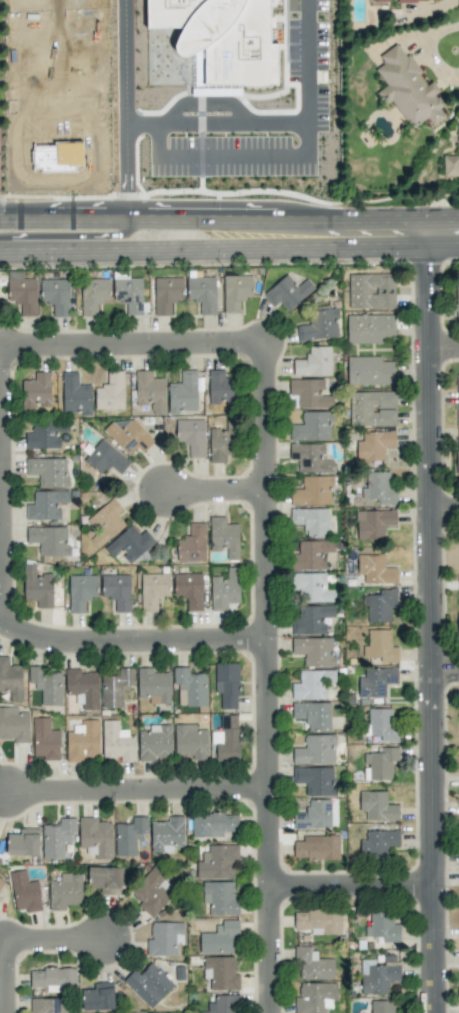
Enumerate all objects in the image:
building: (396, 0)
building: (221, 38)
road: (124, 63)
building: (407, 88)
road: (233, 124)
building: (457, 132)
road: (279, 159)
building: (451, 166)
road: (125, 173)
road: (118, 220)
road: (68, 236)
road: (347, 236)
road: (117, 245)
building: (235, 291)
building: (371, 291)
building: (287, 292)
building: (22, 293)
building: (202, 293)
building: (166, 294)
building: (93, 295)
building: (130, 295)
building: (56, 296)
building: (457, 297)
building: (319, 325)
building: (369, 328)
road: (136, 341)
road: (445, 343)
building: (313, 363)
building: (369, 371)
building: (220, 387)
building: (150, 391)
building: (36, 392)
building: (110, 392)
building: (183, 393)
building: (309, 393)
building: (75, 395)
building: (457, 398)
building: (372, 409)
building: (312, 427)
building: (45, 435)
building: (129, 435)
building: (191, 436)
building: (221, 443)
building: (374, 445)
building: (105, 458)
building: (310, 458)
building: (457, 464)
building: (48, 471)
road: (5, 487)
building: (379, 487)
road: (218, 489)
building: (312, 491)
building: (46, 505)
road: (446, 505)
building: (311, 521)
building: (105, 522)
building: (373, 523)
building: (224, 538)
building: (48, 540)
building: (130, 543)
building: (192, 544)
building: (458, 550)
building: (311, 555)
building: (375, 570)
building: (37, 587)
building: (311, 587)
building: (224, 589)
building: (153, 590)
building: (189, 590)
building: (80, 591)
building: (117, 591)
building: (379, 605)
building: (312, 620)
road: (433, 624)
building: (457, 626)
road: (133, 640)
building: (381, 647)
building: (314, 651)
road: (446, 669)
building: (11, 680)
road: (270, 680)
building: (376, 682)
building: (227, 684)
building: (313, 684)
building: (47, 686)
building: (153, 686)
building: (83, 688)
building: (116, 688)
building: (190, 688)
building: (313, 715)
building: (14, 725)
building: (382, 725)
building: (44, 740)
building: (225, 740)
building: (82, 741)
building: (117, 742)
building: (190, 742)
building: (154, 743)
building: (315, 750)
building: (380, 763)
building: (315, 780)
road: (138, 790)
building: (377, 806)
building: (313, 815)
building: (213, 824)
building: (167, 834)
building: (129, 836)
building: (57, 837)
building: (95, 837)
building: (23, 842)
building: (378, 843)
building: (317, 848)
building: (217, 862)
building: (106, 879)
building: (0, 882)
road: (353, 886)
building: (25, 892)
building: (65, 892)
building: (151, 892)
building: (220, 898)
building: (319, 922)
building: (382, 927)
building: (219, 938)
building: (164, 939)
road: (26, 943)
building: (313, 964)
building: (220, 973)
building: (378, 975)
building: (54, 979)
building: (148, 984)
building: (98, 997)
building: (314, 998)
building: (222, 1004)
building: (47, 1006)
building: (381, 1006)

